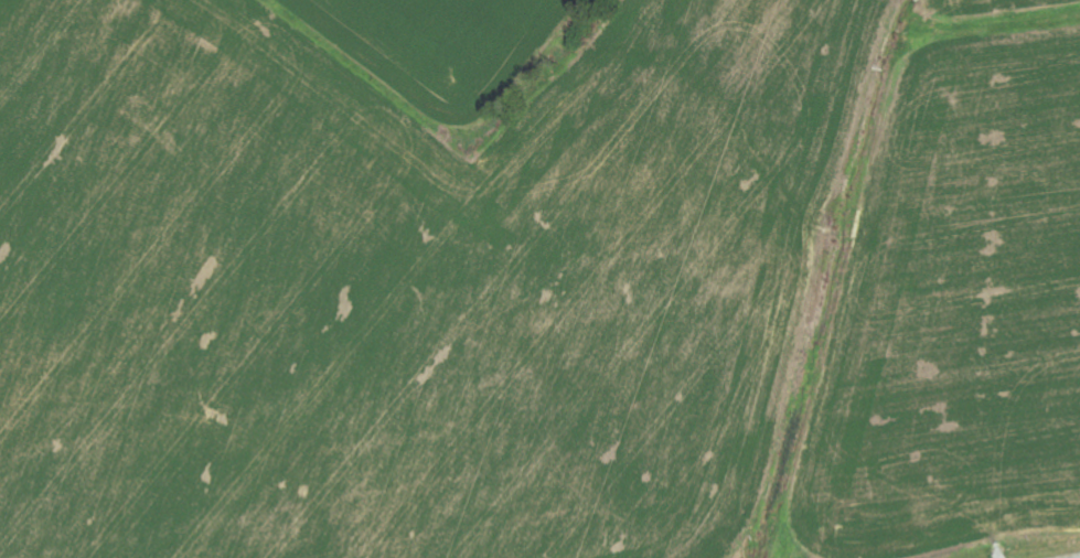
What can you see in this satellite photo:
road: (1060, 554)

